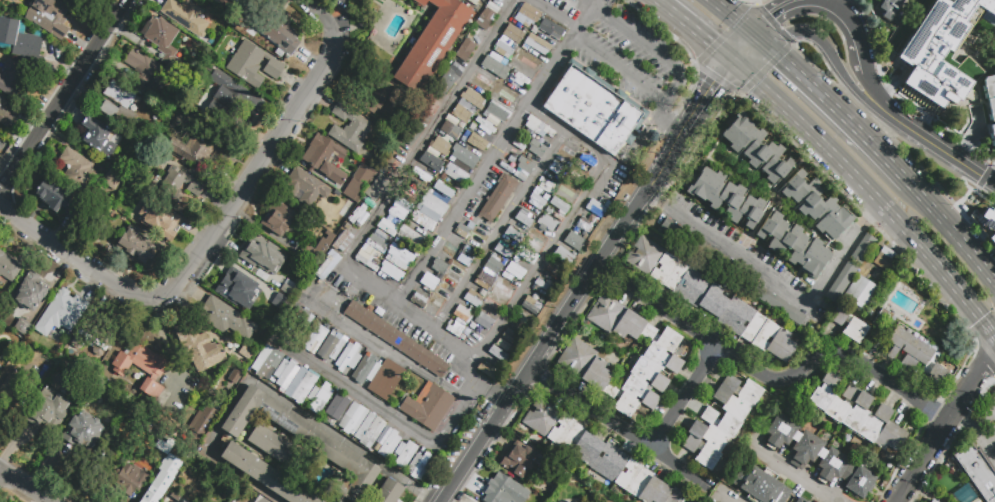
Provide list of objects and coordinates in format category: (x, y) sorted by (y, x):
building: (215, 0)
building: (570, 0)
building: (571, 0)
gas station: (571, 0)
road: (590, 1)
road: (583, 3)
road: (815, 3)
road: (835, 4)
road: (750, 8)
road: (833, 8)
building: (890, 8)
road: (553, 13)
building: (527, 15)
road: (777, 15)
building: (184, 16)
building: (49, 18)
road: (734, 18)
traffic signals: (774, 18)
building: (485, 19)
road: (313, 20)
building: (550, 29)
road: (693, 29)
building: (533, 30)
building: (279, 33)
building: (513, 34)
road: (771, 36)
building: (162, 39)
road: (852, 39)
building: (20, 41)
building: (432, 43)
building: (537, 44)
traffic signals: (712, 44)
road: (744, 48)
building: (504, 51)
building: (938, 51)
building: (466, 52)
traffic signals: (782, 59)
road: (832, 59)
building: (528, 60)
building: (252, 65)
building: (494, 66)
building: (143, 70)
building: (994, 72)
building: (11, 79)
building: (447, 79)
building: (519, 79)
traffic signals: (713, 81)
building: (481, 82)
road: (868, 84)
road: (673, 89)
road: (921, 89)
building: (372, 91)
road: (740, 92)
building: (505, 94)
road: (704, 94)
road: (62, 95)
building: (990, 95)
building: (473, 98)
building: (232, 100)
building: (119, 101)
road: (835, 108)
building: (431, 109)
building: (594, 109)
building: (497, 111)
building: (6, 112)
building: (461, 113)
road: (667, 119)
building: (484, 125)
building: (537, 125)
building: (350, 127)
road: (984, 129)
building: (451, 130)
road: (646, 130)
building: (97, 135)
building: (413, 135)
road: (974, 135)
building: (993, 135)
building: (477, 142)
road: (932, 144)
building: (199, 145)
building: (518, 145)
road: (896, 145)
building: (440, 146)
building: (756, 147)
building: (537, 149)
road: (494, 151)
building: (463, 155)
building: (568, 155)
building: (325, 159)
building: (511, 160)
building: (394, 161)
road: (664, 161)
building: (430, 162)
building: (587, 162)
road: (938, 163)
building: (525, 164)
building: (554, 167)
building: (506, 168)
building: (77, 170)
building: (496, 171)
building: (455, 172)
road: (852, 174)
building: (517, 175)
building: (421, 177)
building: (581, 178)
building: (112, 179)
building: (522, 179)
building: (358, 183)
building: (548, 183)
road: (980, 183)
building: (177, 186)
building: (304, 187)
building: (376, 188)
building: (445, 188)
building: (570, 189)
road: (975, 189)
building: (547, 190)
building: (541, 194)
building: (726, 197)
building: (409, 198)
building: (497, 198)
road: (963, 198)
building: (53, 202)
building: (434, 203)
building: (536, 203)
building: (818, 205)
building: (560, 206)
building: (595, 208)
building: (549, 211)
building: (397, 212)
building: (358, 215)
building: (276, 218)
building: (158, 219)
building: (523, 220)
building: (547, 221)
road: (569, 221)
building: (425, 222)
road: (369, 224)
building: (986, 224)
building: (584, 225)
building: (386, 227)
building: (541, 229)
building: (462, 231)
road: (500, 231)
building: (509, 231)
road: (952, 234)
building: (481, 235)
building: (517, 236)
building: (411, 237)
building: (342, 241)
building: (539, 241)
building: (574, 241)
building: (375, 242)
building: (794, 245)
road: (198, 248)
road: (846, 249)
building: (315, 250)
building: (137, 251)
building: (451, 251)
building: (468, 251)
building: (504, 251)
road: (729, 251)
building: (400, 253)
building: (262, 255)
building: (564, 256)
building: (528, 257)
building: (886, 259)
building: (366, 260)
building: (493, 265)
building: (9, 267)
building: (441, 268)
building: (461, 268)
building: (326, 269)
building: (280, 270)
building: (392, 271)
building: (516, 271)
building: (243, 272)
building: (848, 272)
building: (550, 275)
building: (731, 275)
building: (504, 276)
building: (482, 284)
building: (432, 285)
building: (450, 286)
building: (505, 288)
building: (541, 288)
building: (30, 292)
building: (861, 293)
building: (473, 298)
building: (710, 300)
building: (419, 301)
road: (572, 303)
building: (494, 304)
building: (530, 305)
building: (246, 307)
building: (436, 308)
building: (62, 311)
building: (462, 314)
building: (530, 317)
building: (225, 318)
road: (979, 318)
building: (484, 321)
building: (520, 322)
building: (848, 325)
building: (299, 326)
building: (456, 330)
building: (313, 335)
building: (96, 336)
building: (509, 336)
building: (396, 338)
road: (166, 340)
building: (502, 346)
building: (330, 347)
building: (202, 352)
building: (498, 354)
building: (579, 355)
building: (915, 355)
building: (348, 357)
road: (990, 357)
building: (270, 364)
building: (140, 366)
building: (364, 368)
building: (486, 370)
building: (285, 373)
building: (234, 376)
building: (385, 380)
road: (782, 381)
building: (306, 388)
building: (11, 389)
road: (272, 391)
road: (682, 398)
building: (321, 399)
building: (427, 406)
building: (46, 407)
building: (337, 409)
building: (857, 413)
road: (389, 414)
building: (352, 419)
building: (721, 421)
road: (612, 423)
road: (967, 423)
building: (168, 426)
road: (987, 426)
building: (201, 428)
building: (369, 429)
building: (83, 433)
road: (942, 433)
building: (304, 442)
building: (387, 442)
building: (279, 448)
road: (984, 449)
road: (471, 452)
building: (404, 454)
building: (599, 455)
building: (818, 456)
building: (520, 463)
building: (420, 465)
building: (64, 466)
building: (976, 470)
building: (168, 472)
road: (793, 473)
building: (266, 476)
building: (127, 480)
building: (760, 485)
road: (24, 486)
building: (156, 486)
building: (505, 490)
building: (387, 492)
road: (441, 495)
road: (728, 496)
building: (238, 498)
building: (257, 498)
building: (800, 500)
building: (932, 500)
building: (247, 501)
building: (929, 501)

